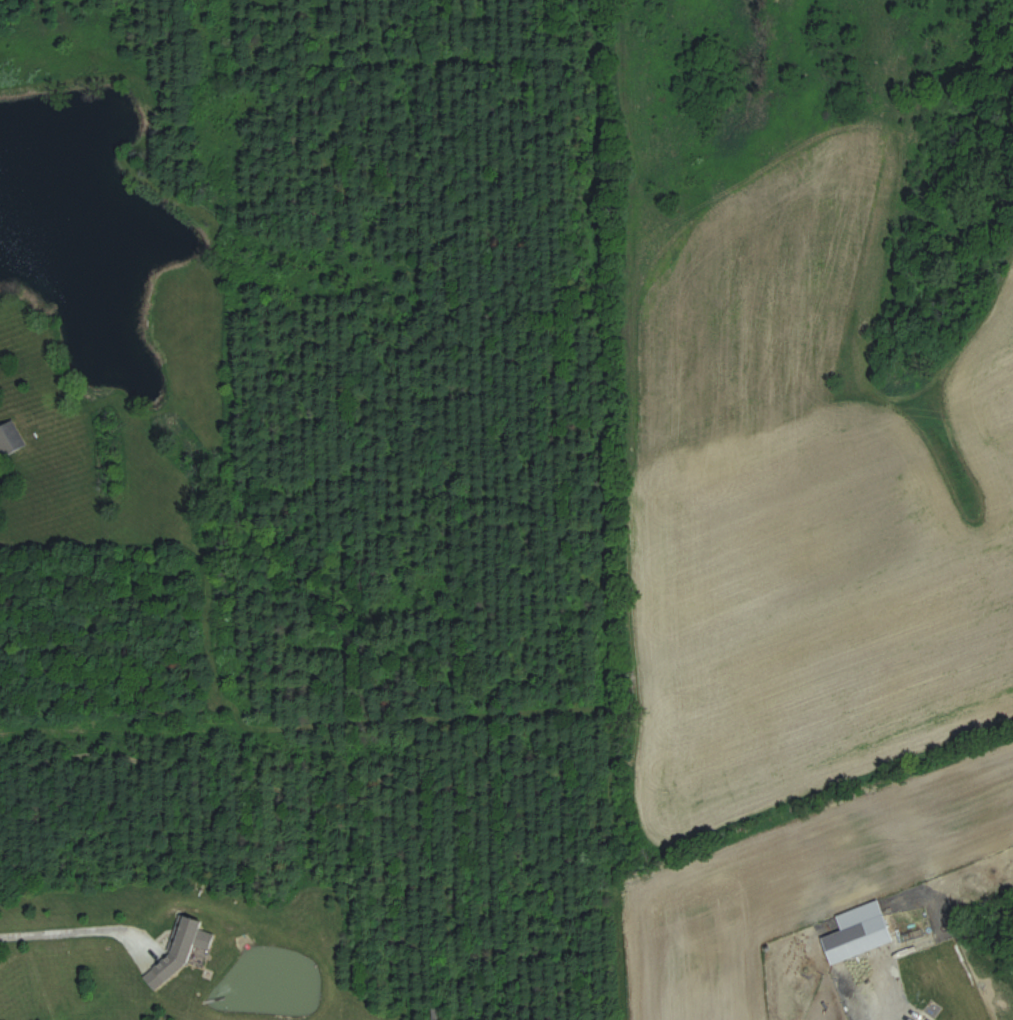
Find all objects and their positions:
building: (11, 439)
building: (973, 886)
road: (82, 926)
building: (864, 926)
building: (179, 947)
road: (893, 1013)
building: (929, 1019)

